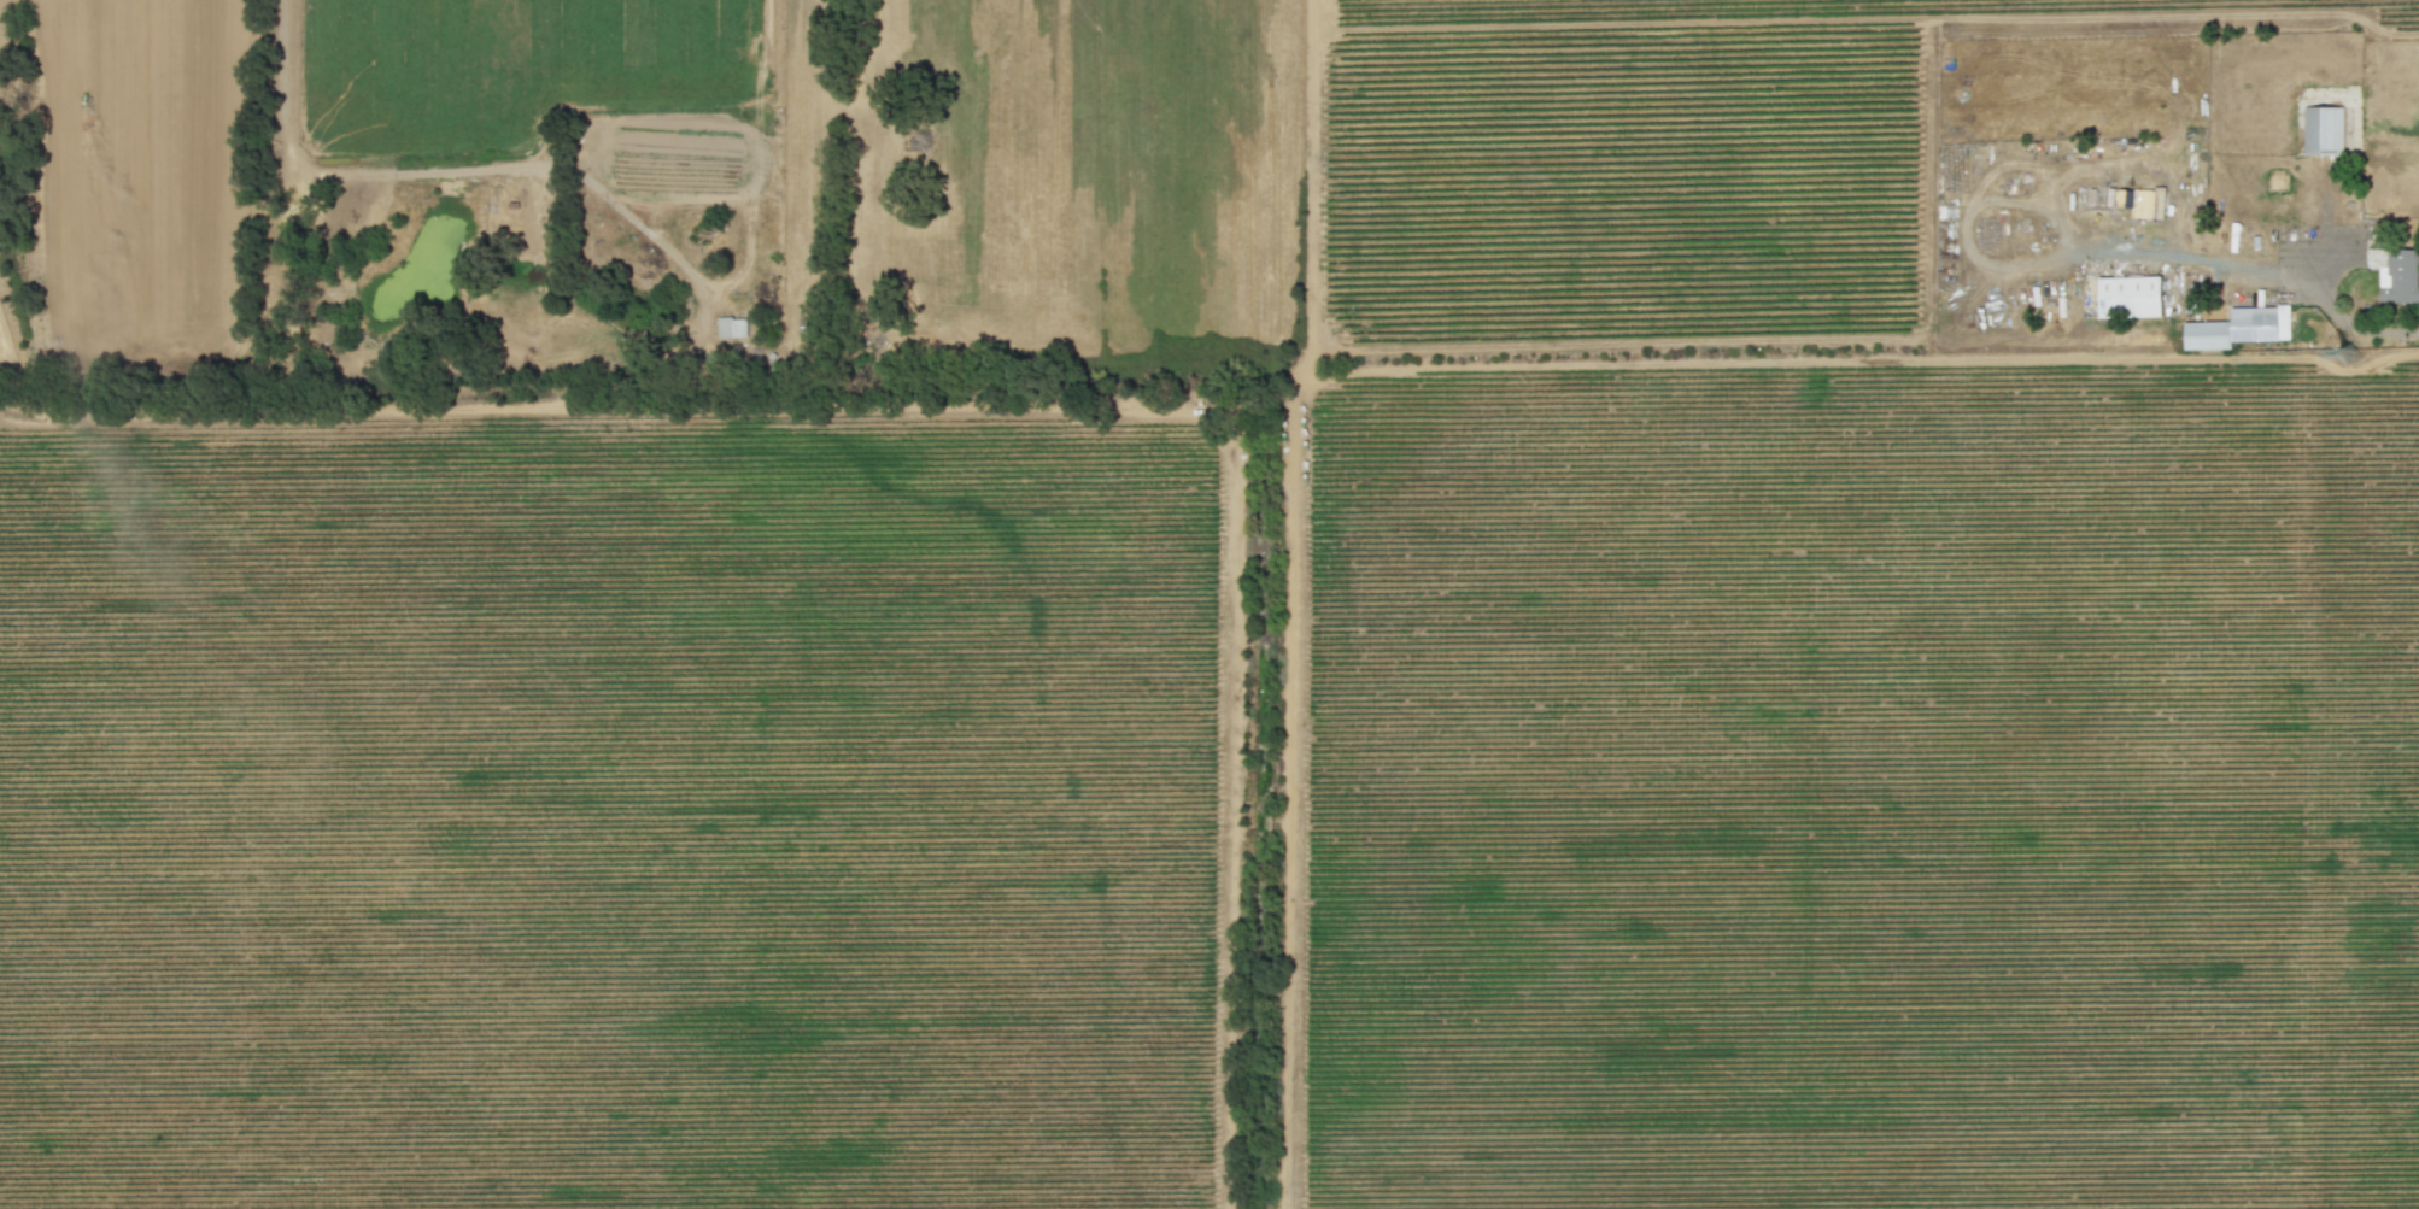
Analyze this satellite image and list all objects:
building: (2324, 130)
road: (447, 169)
building: (2400, 277)
building: (2130, 297)
road: (2364, 313)
building: (732, 327)
building: (2239, 328)
power tower: (2343, 353)

